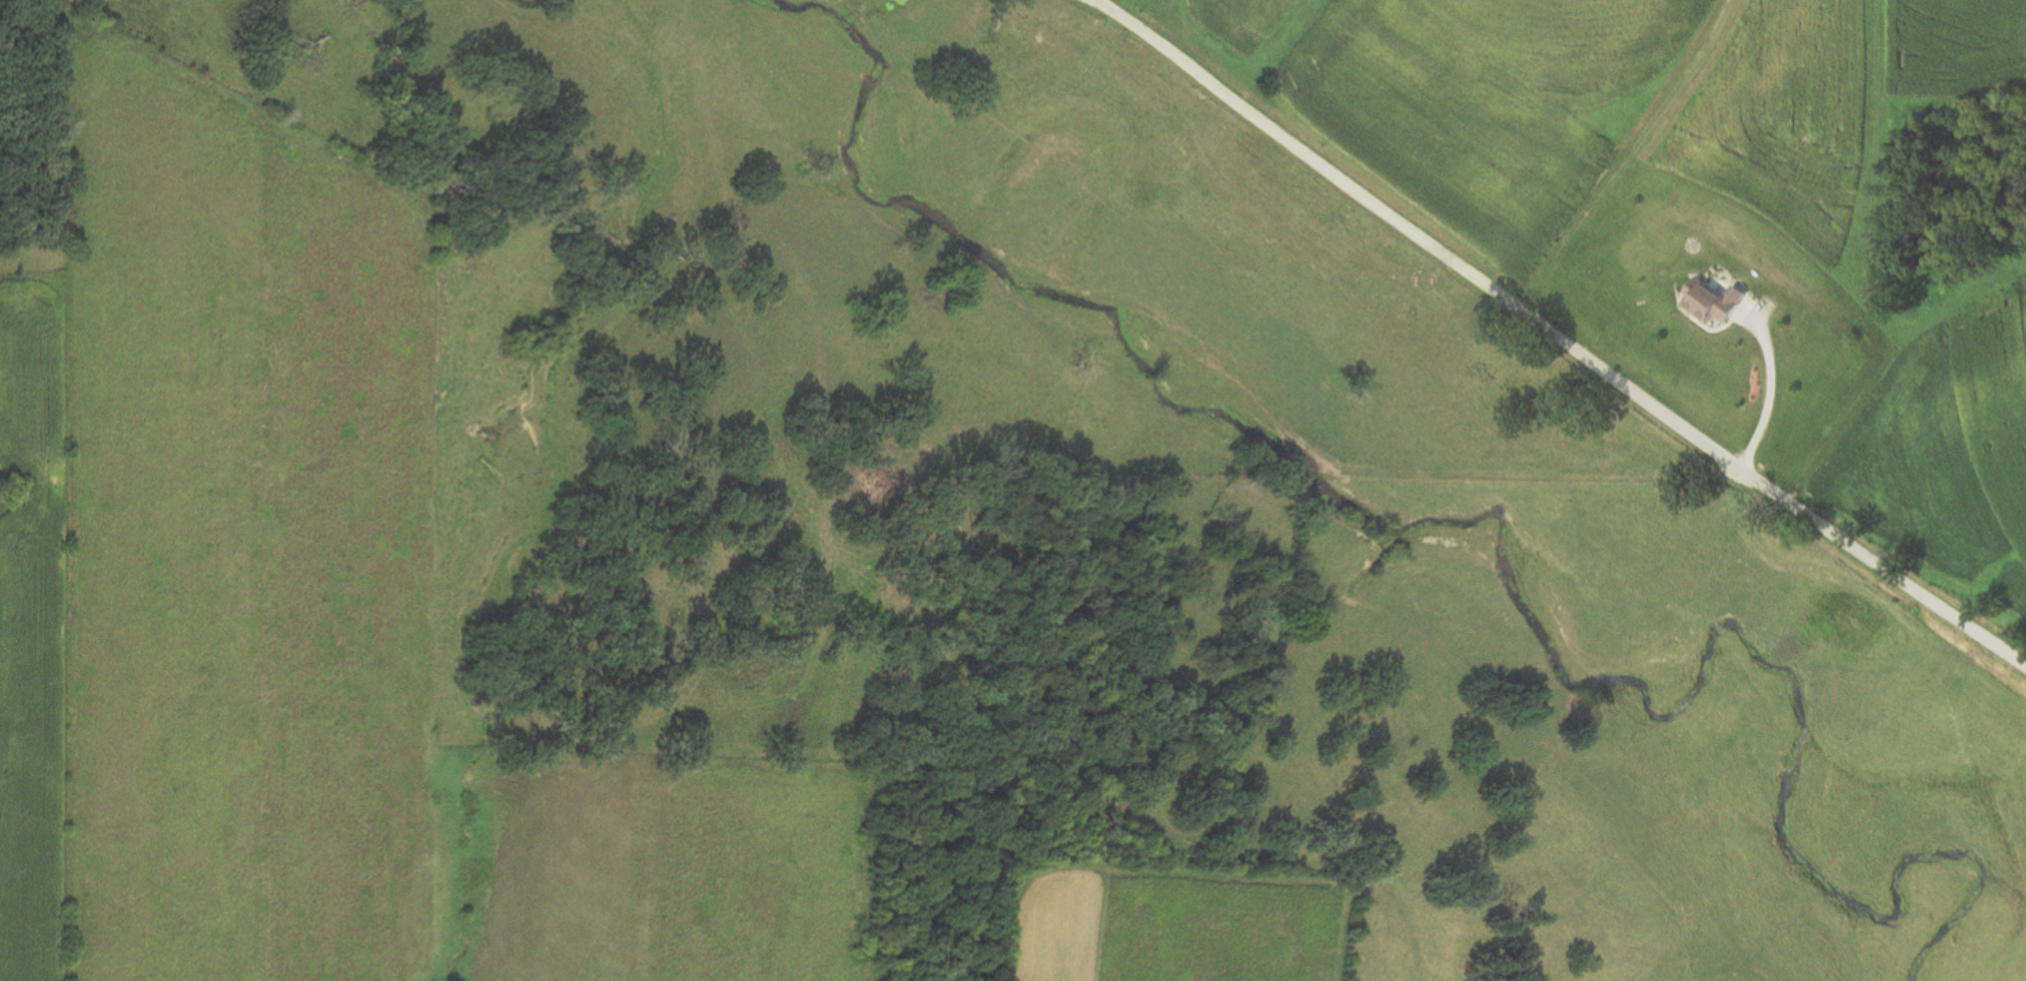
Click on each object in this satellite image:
building: (1711, 304)
road: (1556, 337)
road: (1772, 397)

